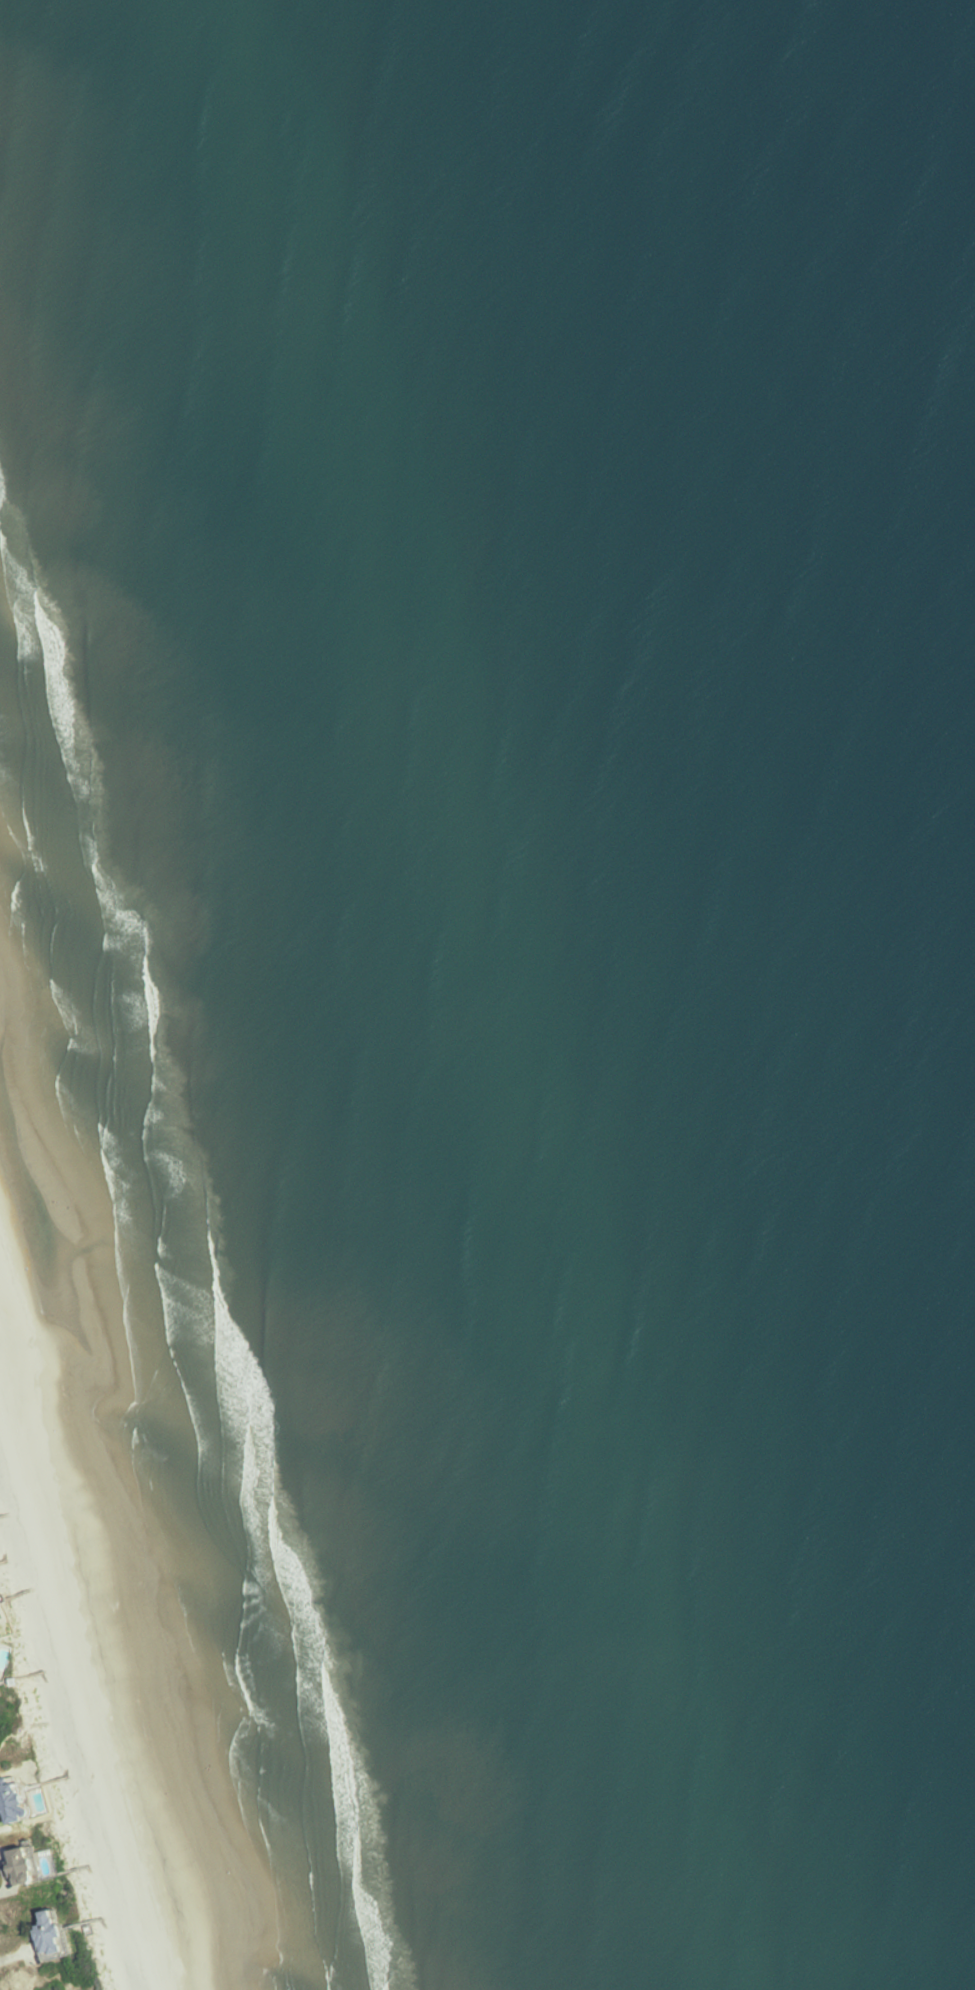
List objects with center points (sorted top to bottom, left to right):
building: (0, 1697)
building: (22, 1802)
building: (32, 1867)
building: (59, 1935)

